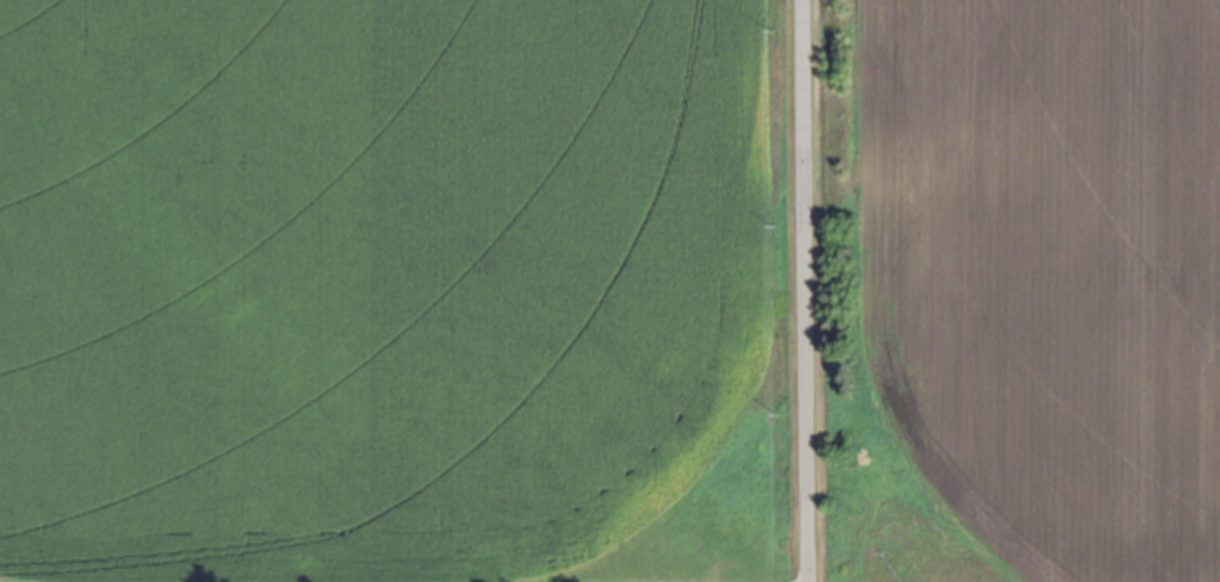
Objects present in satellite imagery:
road: (810, 290)

